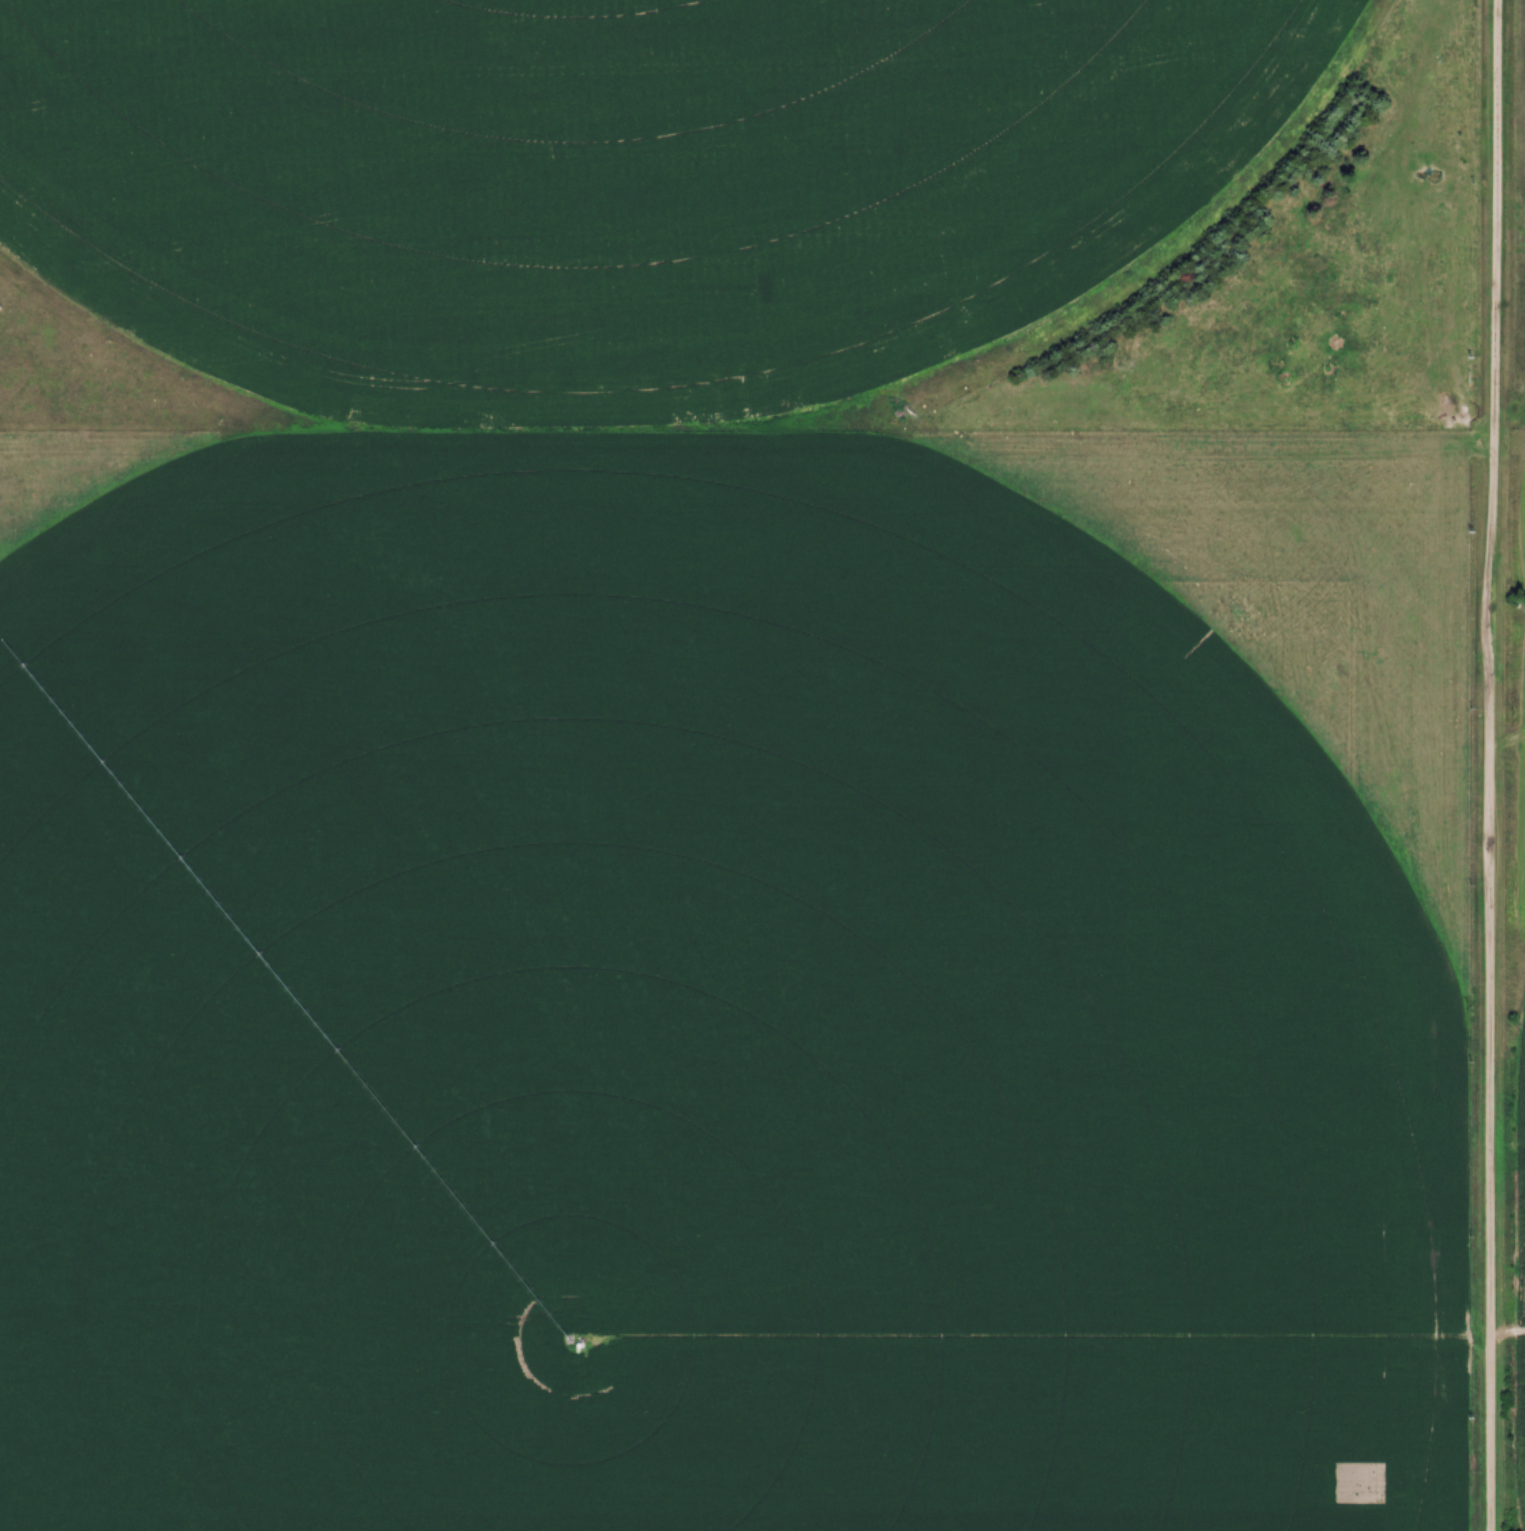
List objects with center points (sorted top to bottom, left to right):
road: (1492, 765)

